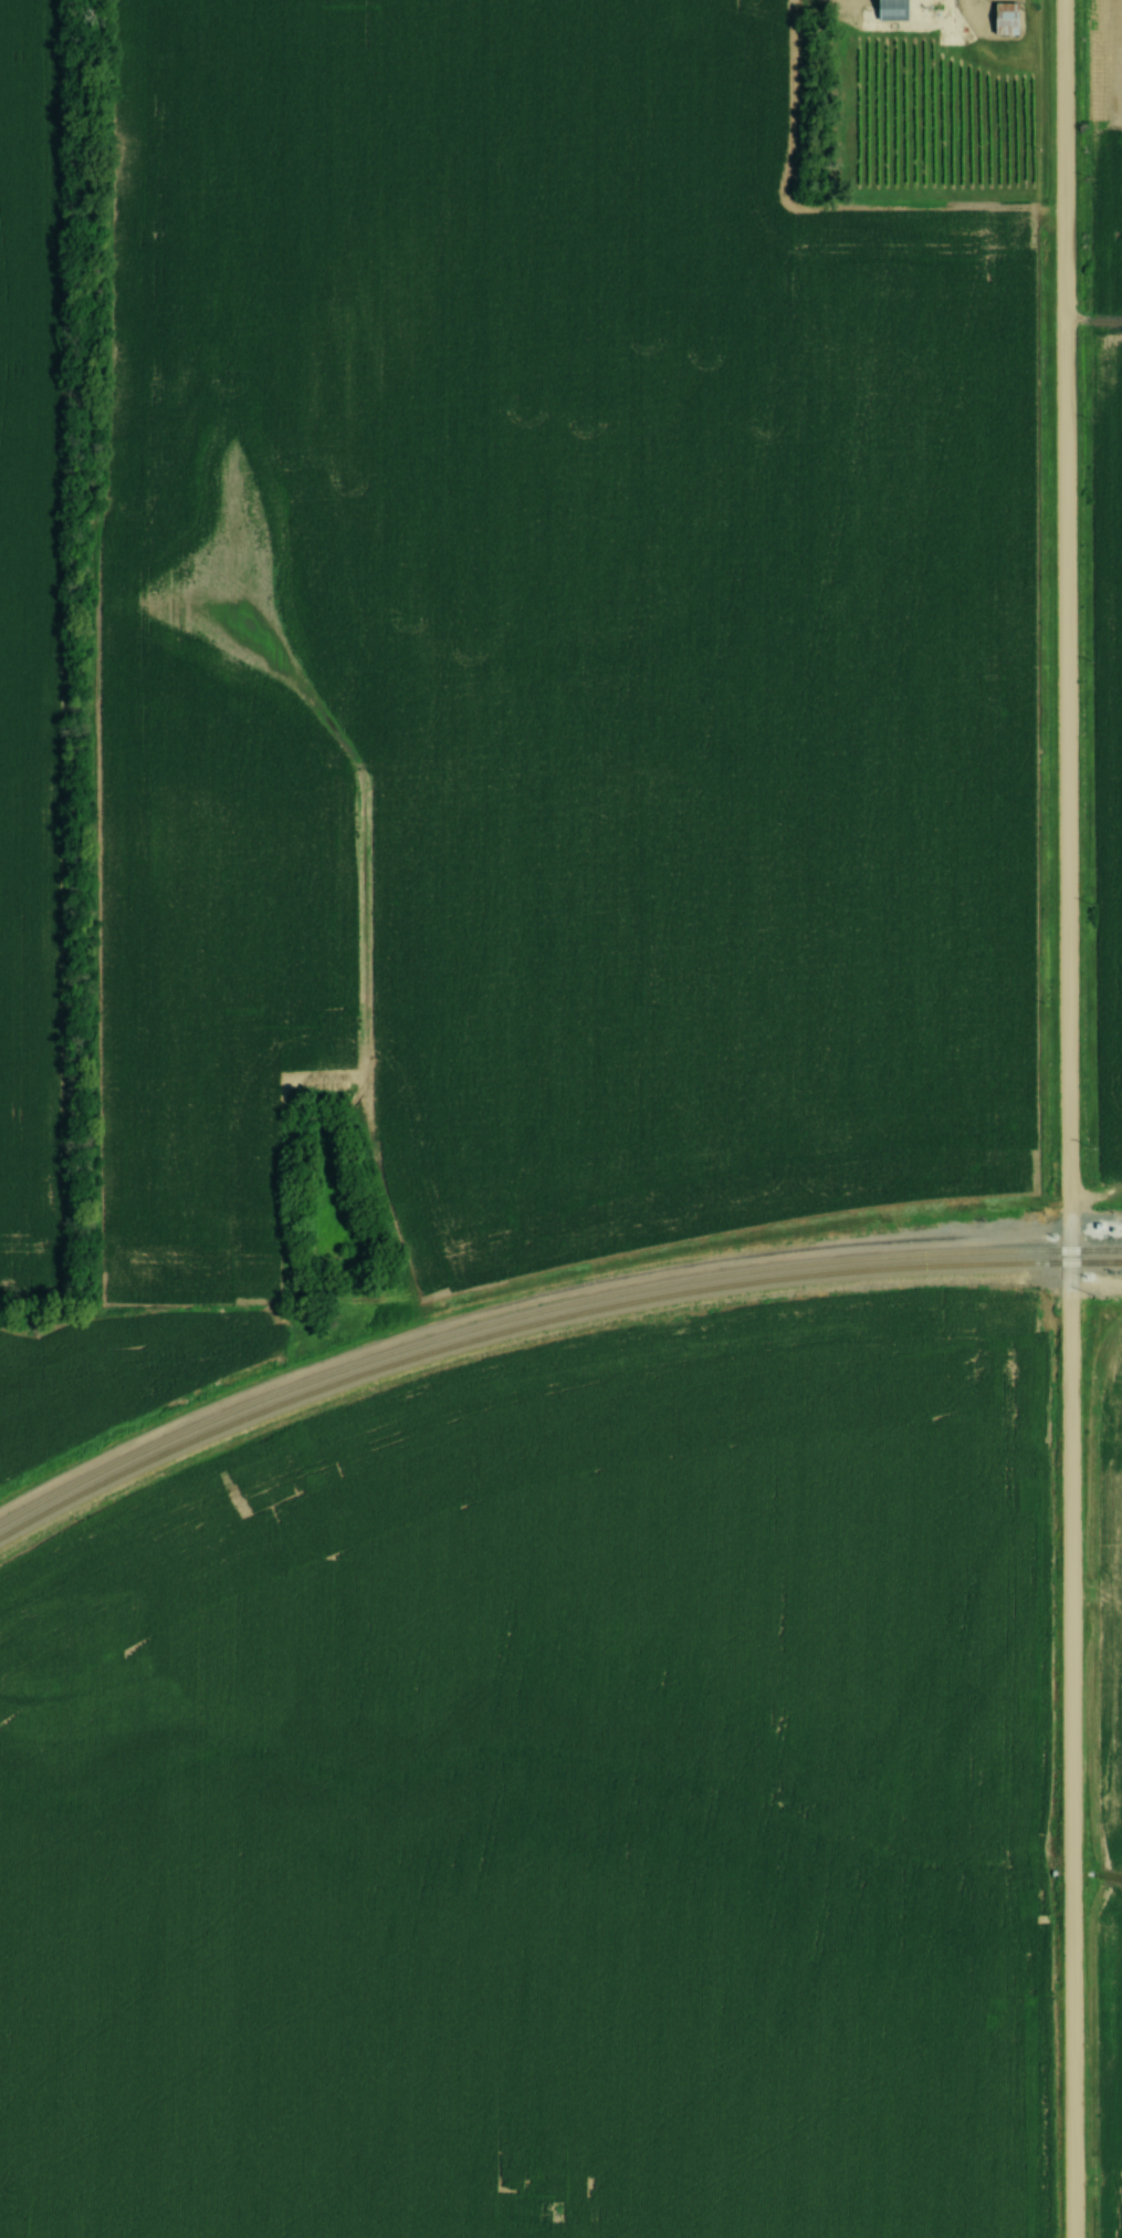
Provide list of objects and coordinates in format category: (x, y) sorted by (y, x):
building: (888, 11)
building: (1003, 20)
road: (1065, 1118)
railway: (542, 1302)
railway: (541, 1321)

